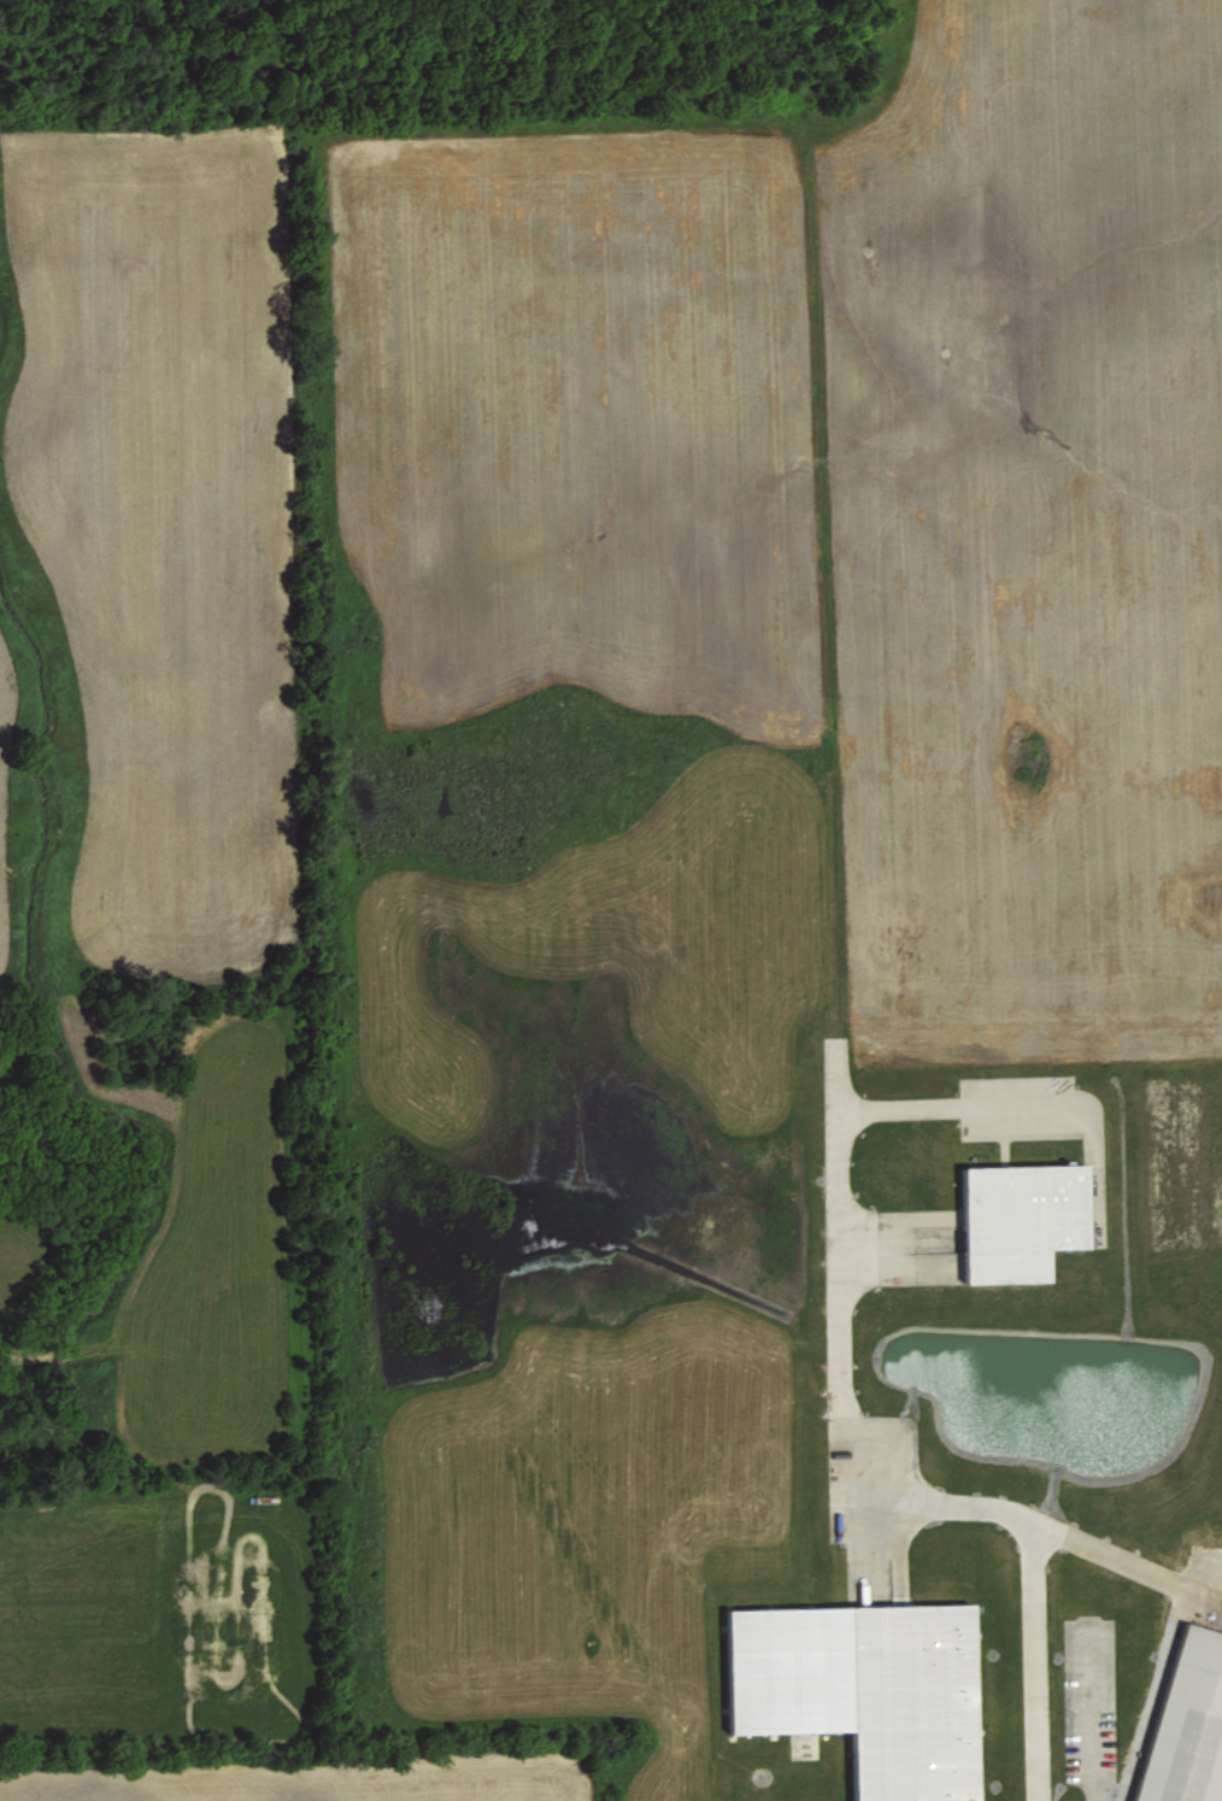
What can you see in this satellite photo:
building: (1022, 1219)
road: (866, 1483)
building: (869, 1688)
building: (1189, 1723)

